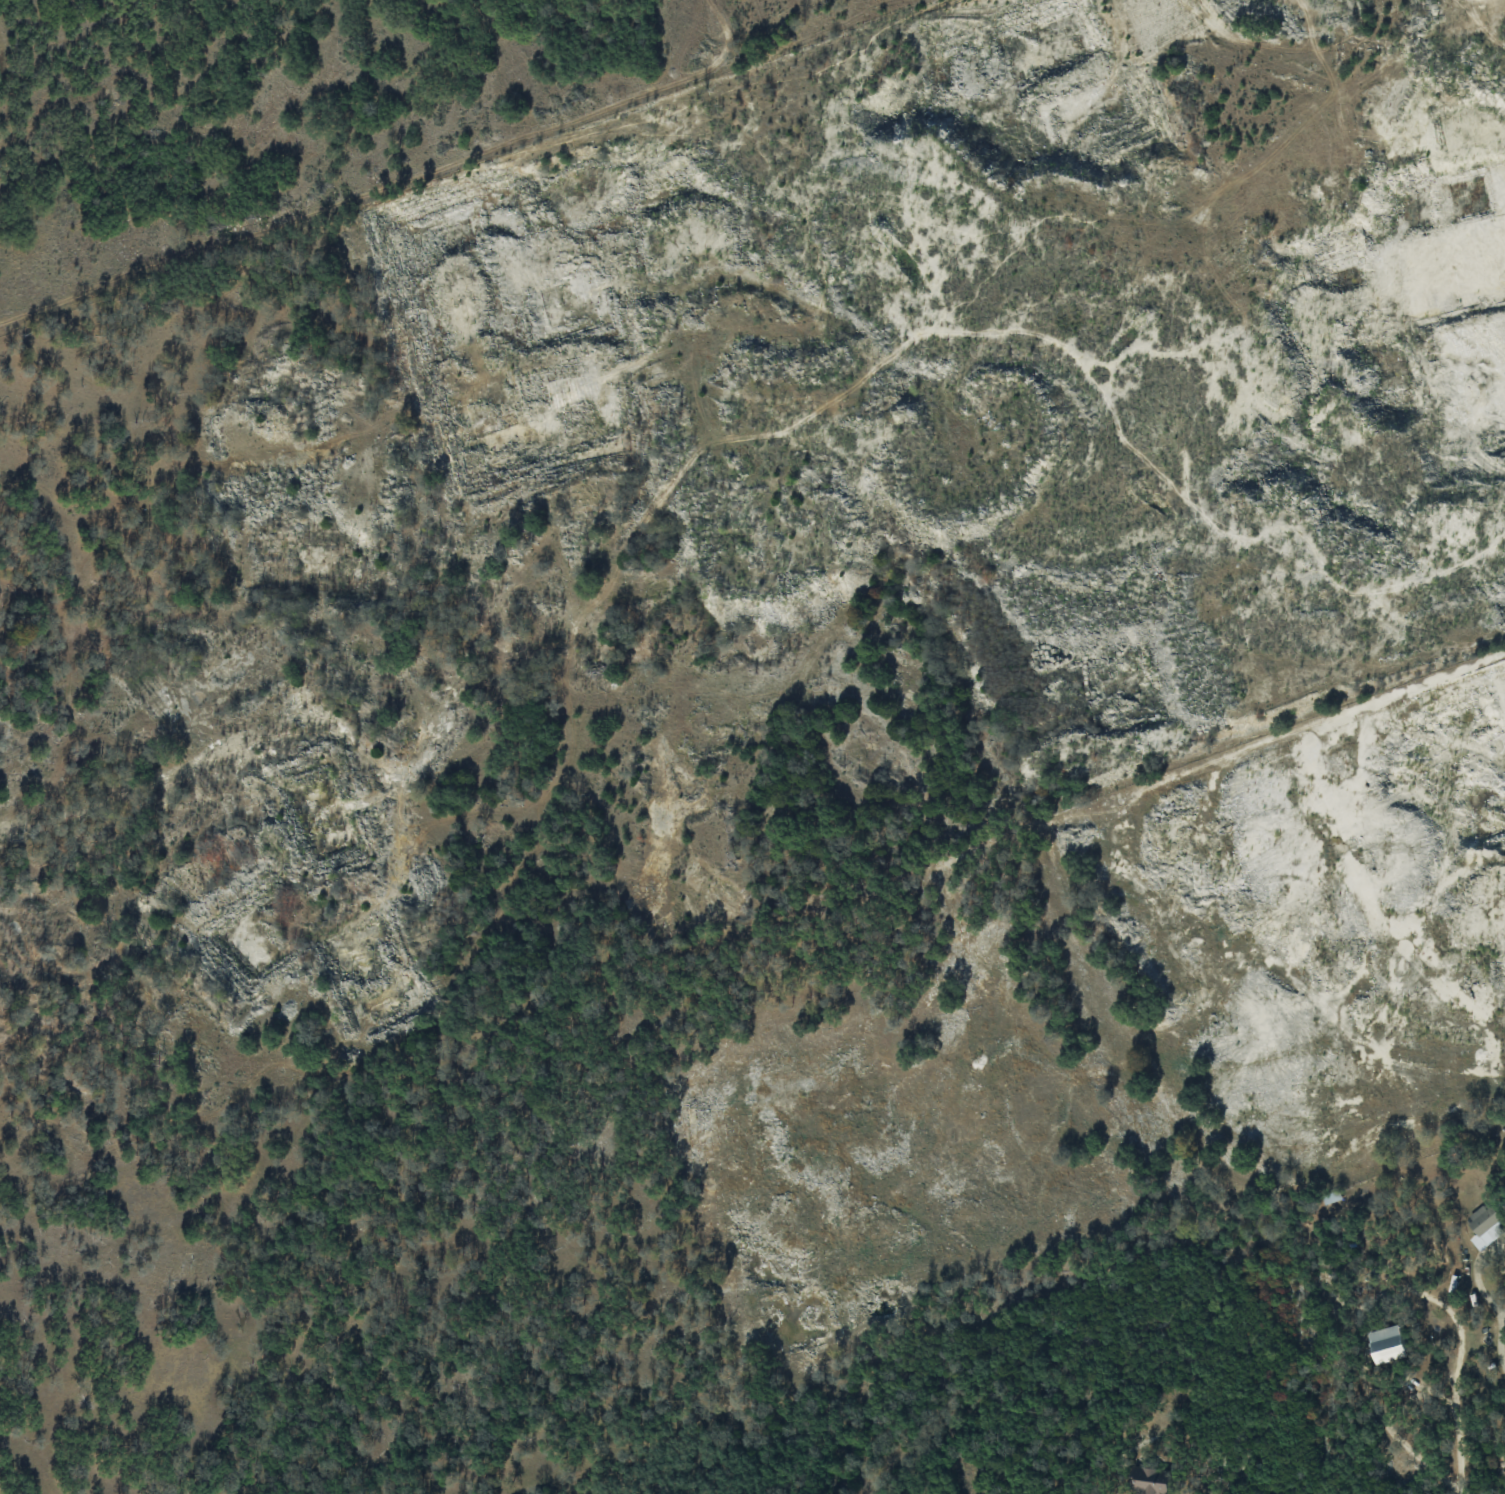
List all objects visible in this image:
building: (1331, 1196)
building: (1486, 1223)
road: (1487, 1298)
building: (1387, 1344)
road: (1455, 1427)
building: (1148, 1482)

